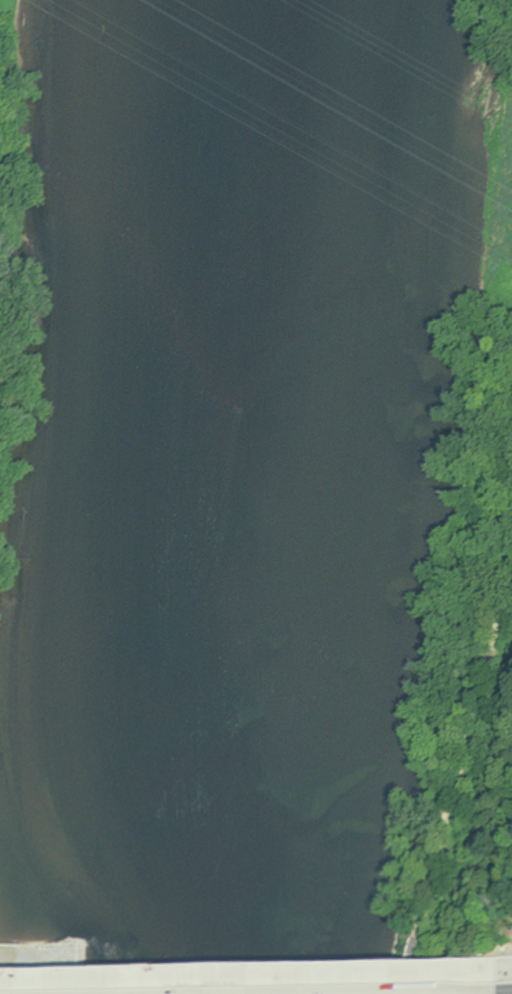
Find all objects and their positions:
river: (246, 500)
road: (456, 785)
road: (500, 968)
road: (244, 974)

